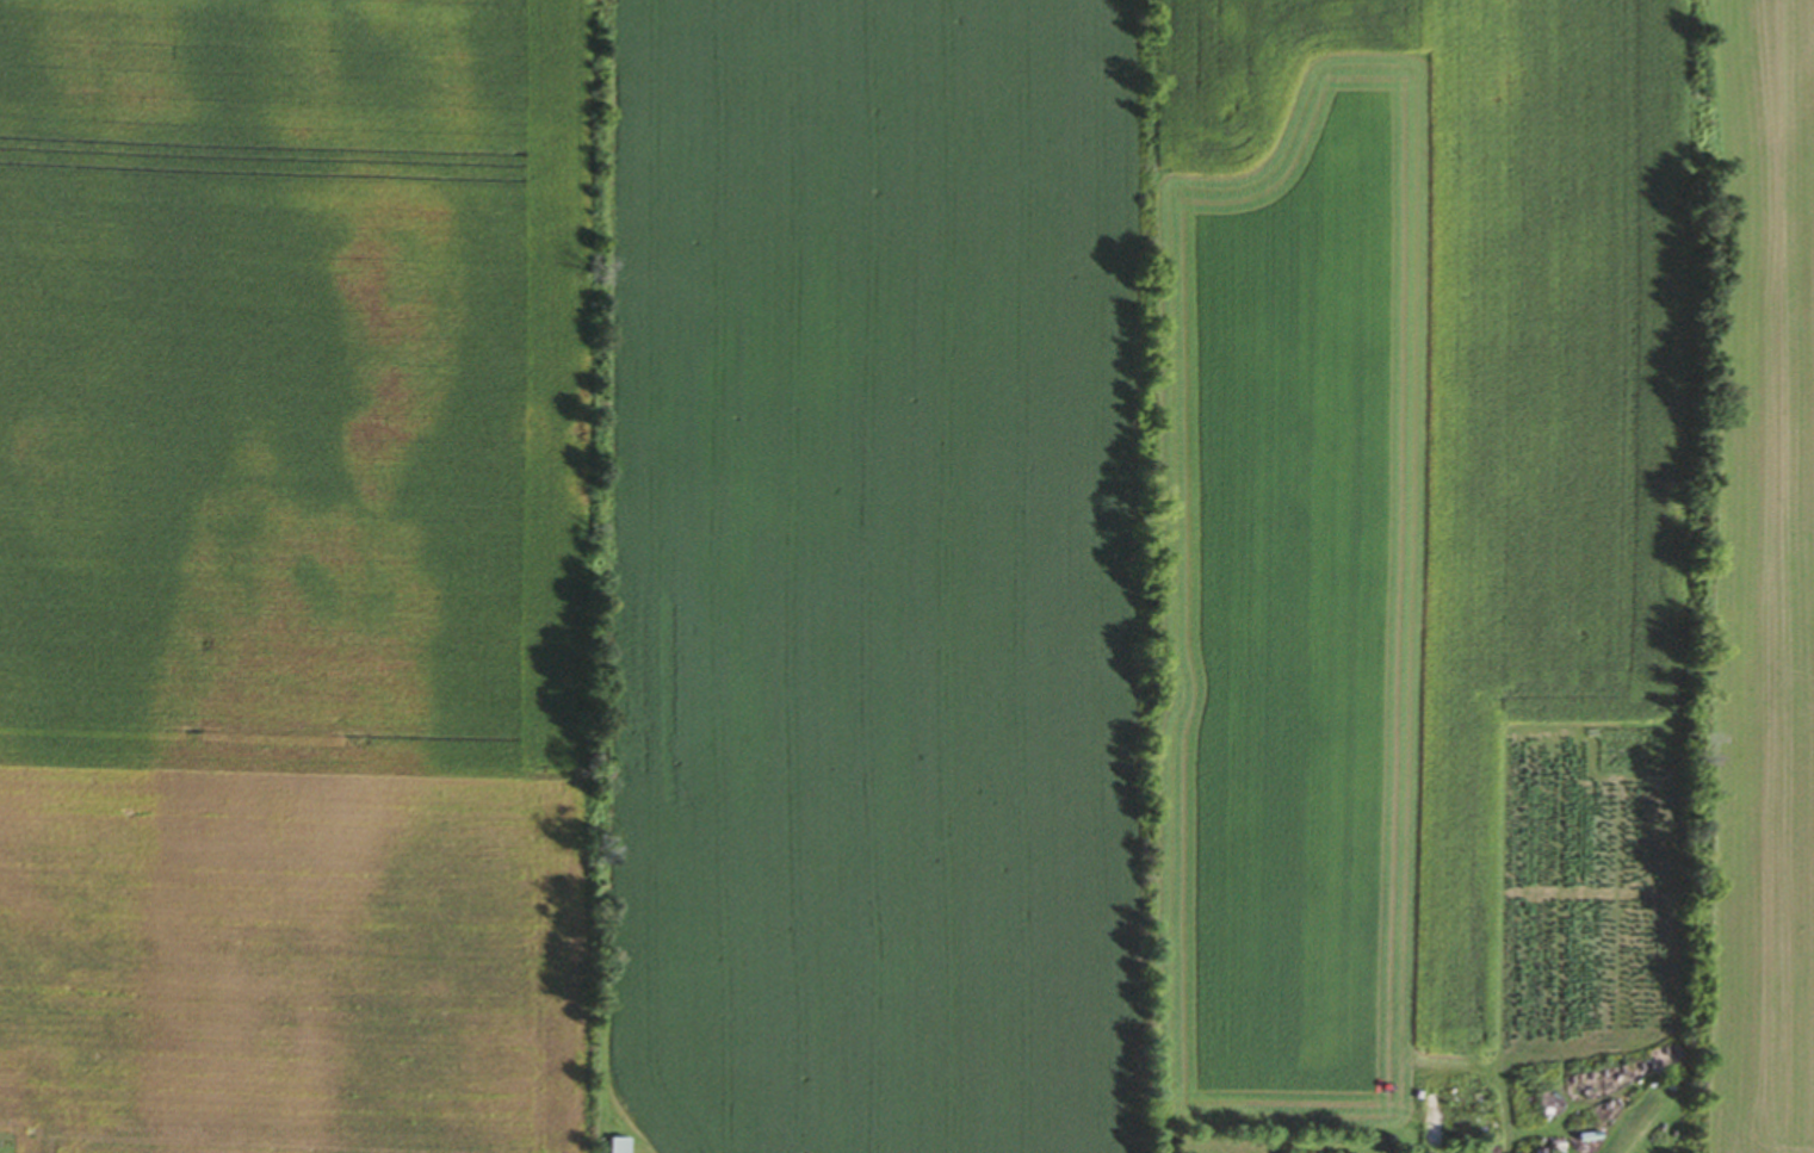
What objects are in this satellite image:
building: (609, 1145)

